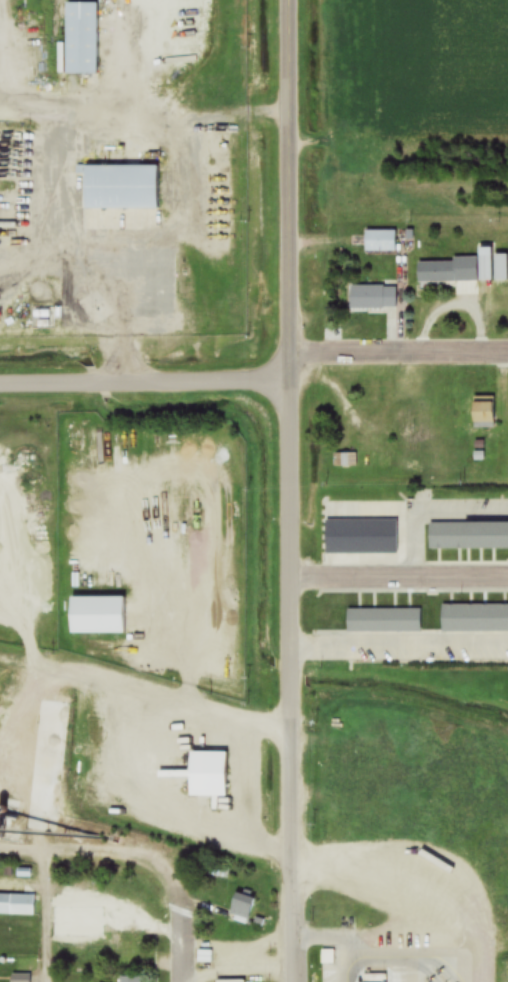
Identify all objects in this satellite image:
building: (79, 40)
crop: (445, 66)
road: (144, 118)
building: (119, 189)
building: (380, 242)
building: (448, 272)
building: (373, 299)
road: (254, 375)
building: (371, 395)
building: (483, 413)
building: (346, 460)
road: (290, 491)
building: (468, 536)
building: (362, 537)
road: (399, 577)
building: (96, 614)
building: (474, 618)
building: (383, 620)
road: (145, 694)
building: (207, 774)
road: (99, 849)
building: (21, 905)
building: (240, 910)
road: (46, 915)
road: (176, 939)
building: (120, 956)
building: (327, 957)
road: (384, 958)
building: (20, 979)
building: (129, 979)
building: (370, 979)

